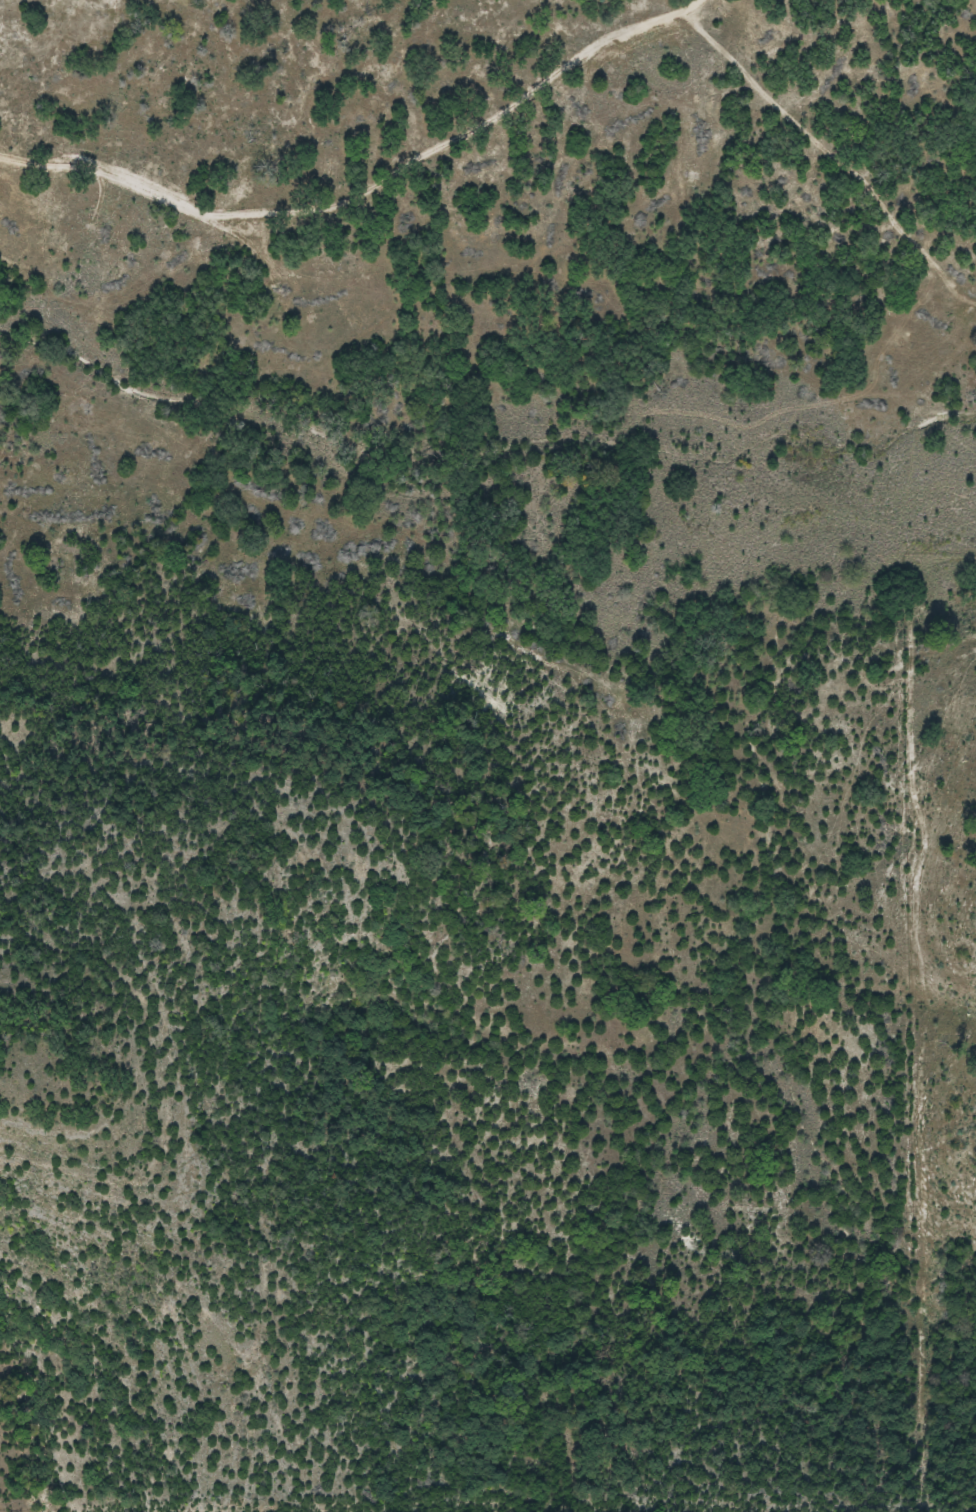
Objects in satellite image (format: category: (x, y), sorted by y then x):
road: (371, 185)

